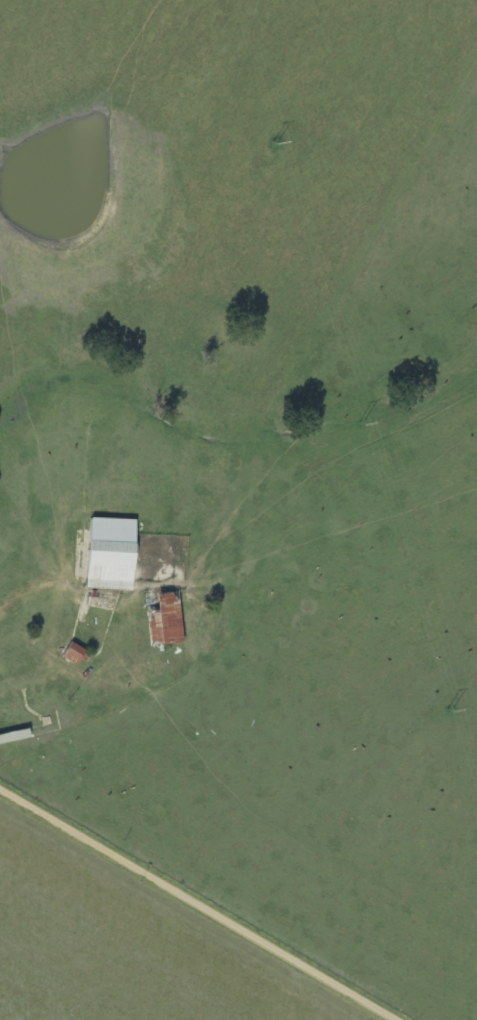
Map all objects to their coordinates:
power tower: (275, 141)
power tower: (362, 421)
power tower: (451, 709)
building: (9, 738)
road: (209, 899)

